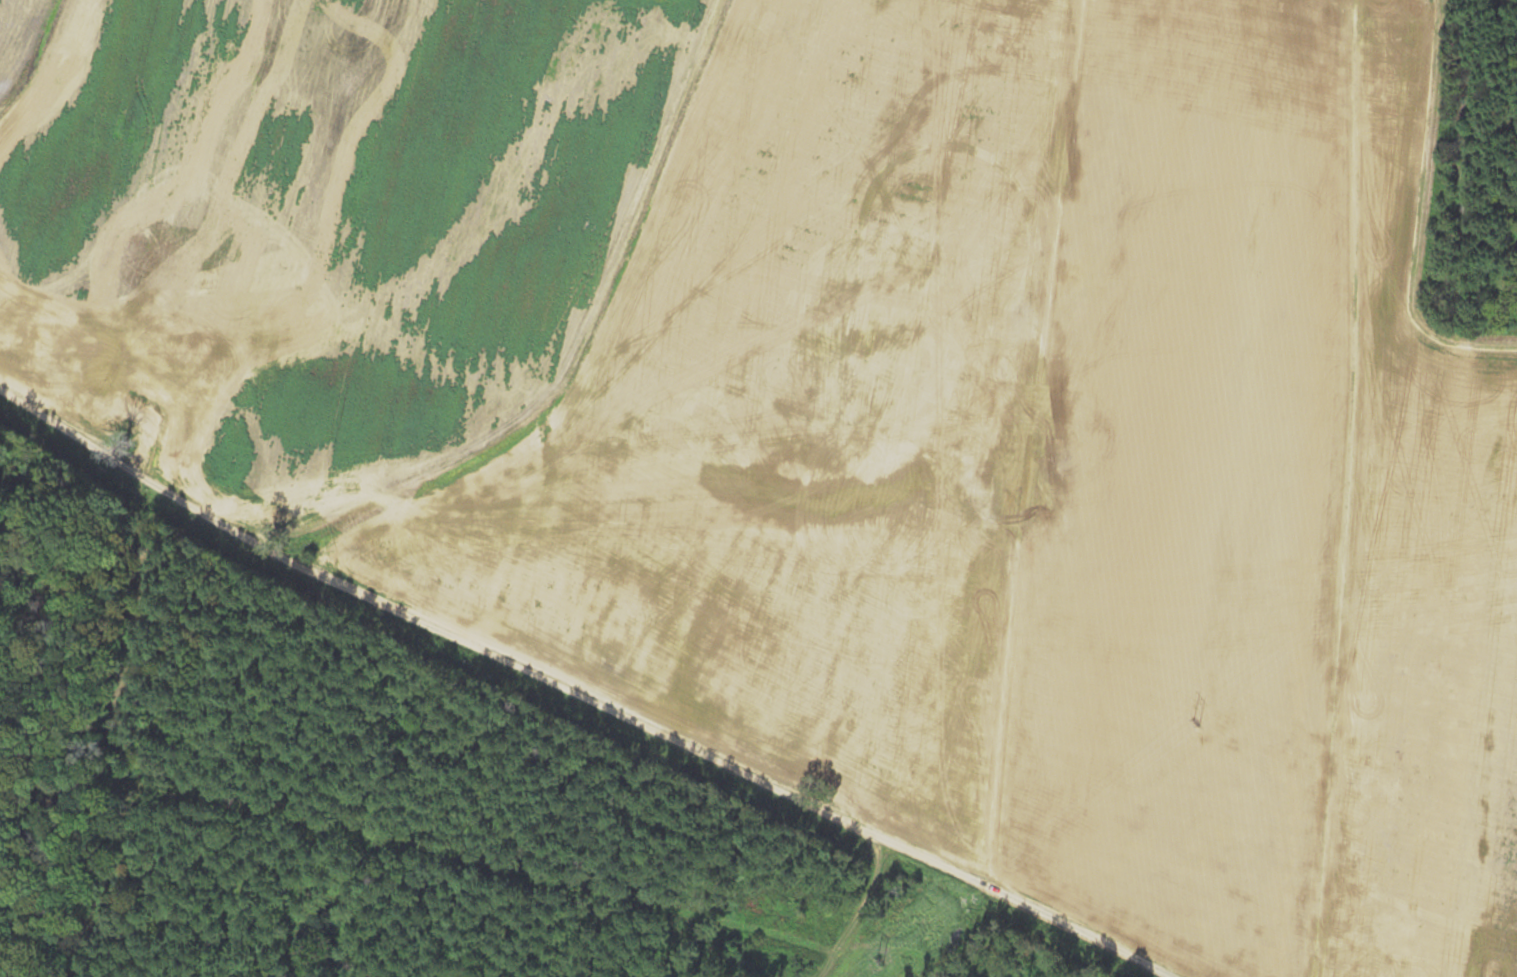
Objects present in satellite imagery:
road: (617, 702)

